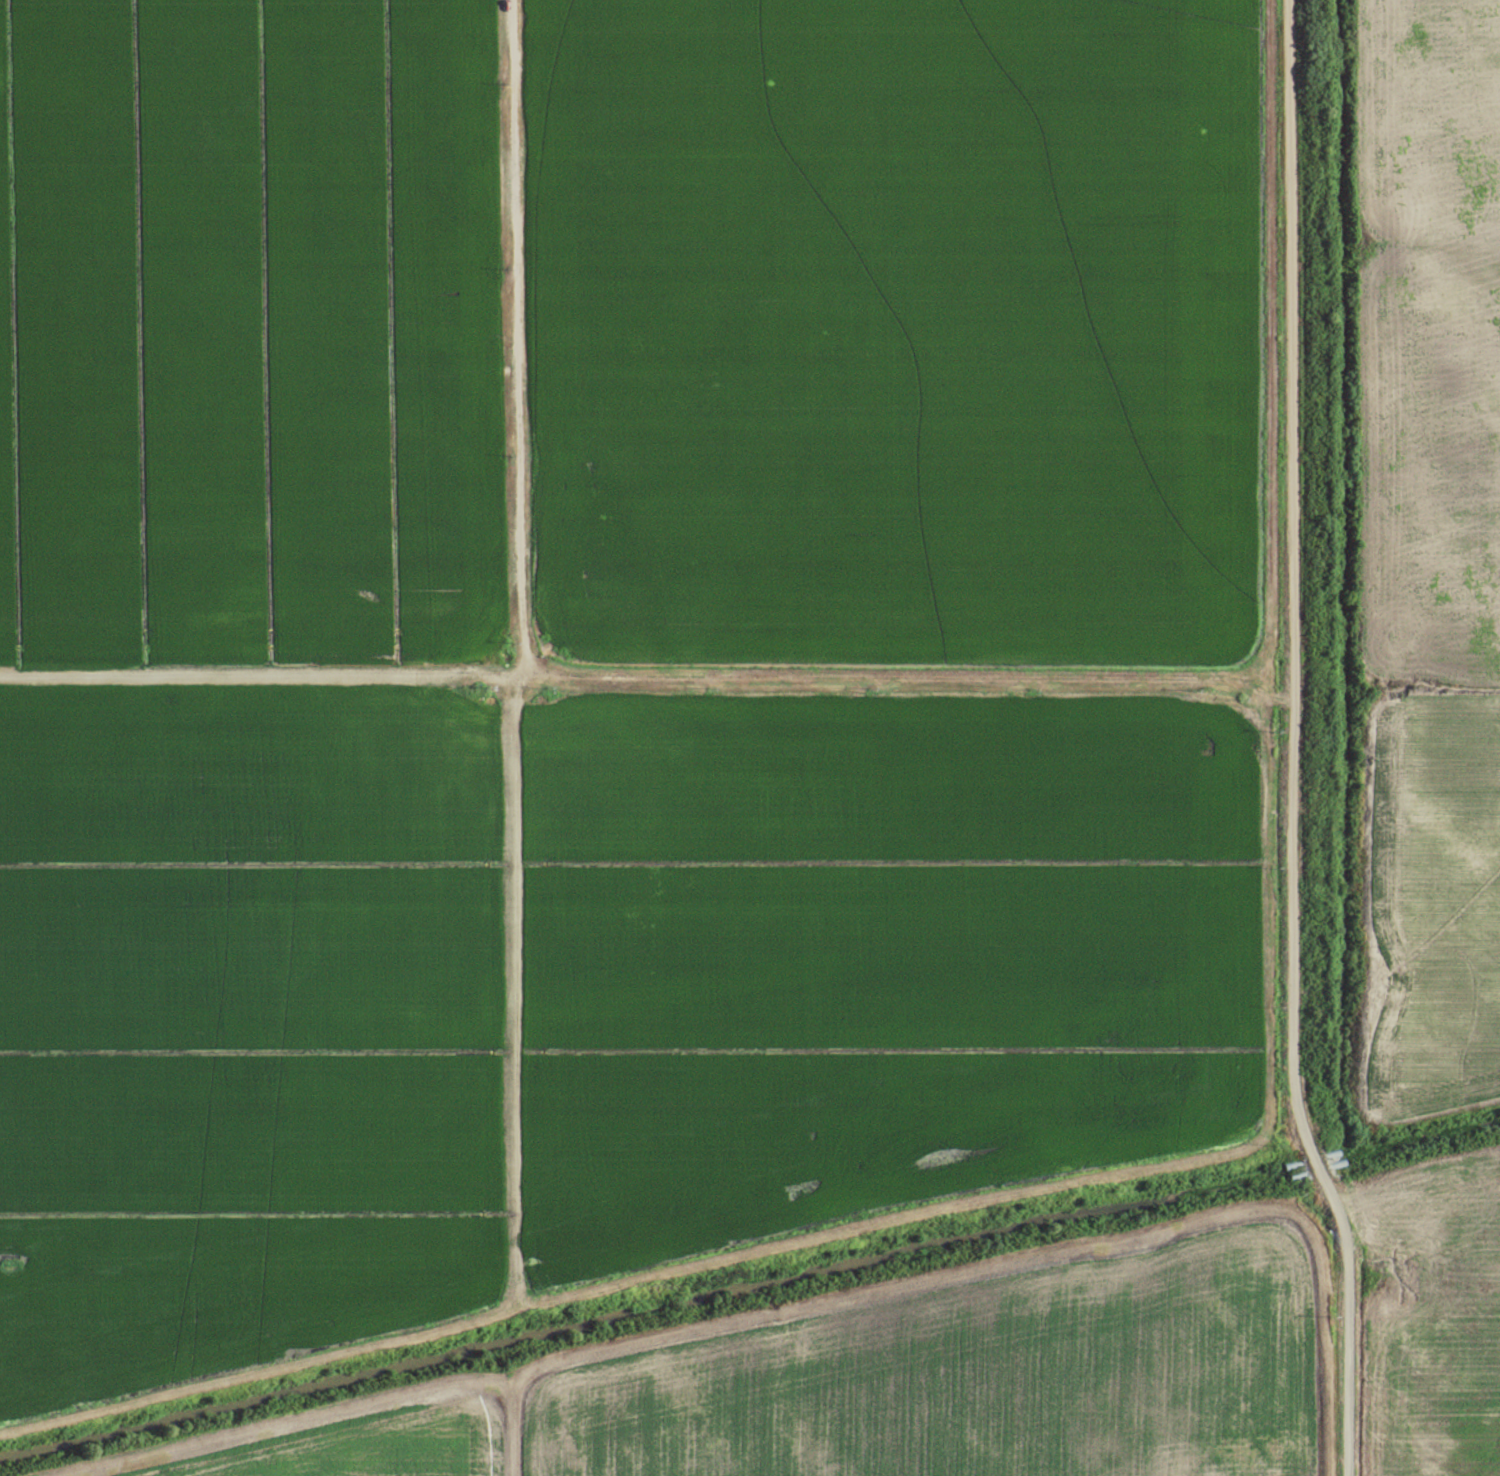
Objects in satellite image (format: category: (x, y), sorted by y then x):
road: (515, 337)
road: (647, 674)
road: (1289, 743)
road: (512, 991)
road: (1276, 1134)
road: (847, 1233)
road: (681, 1332)
road: (512, 1424)

